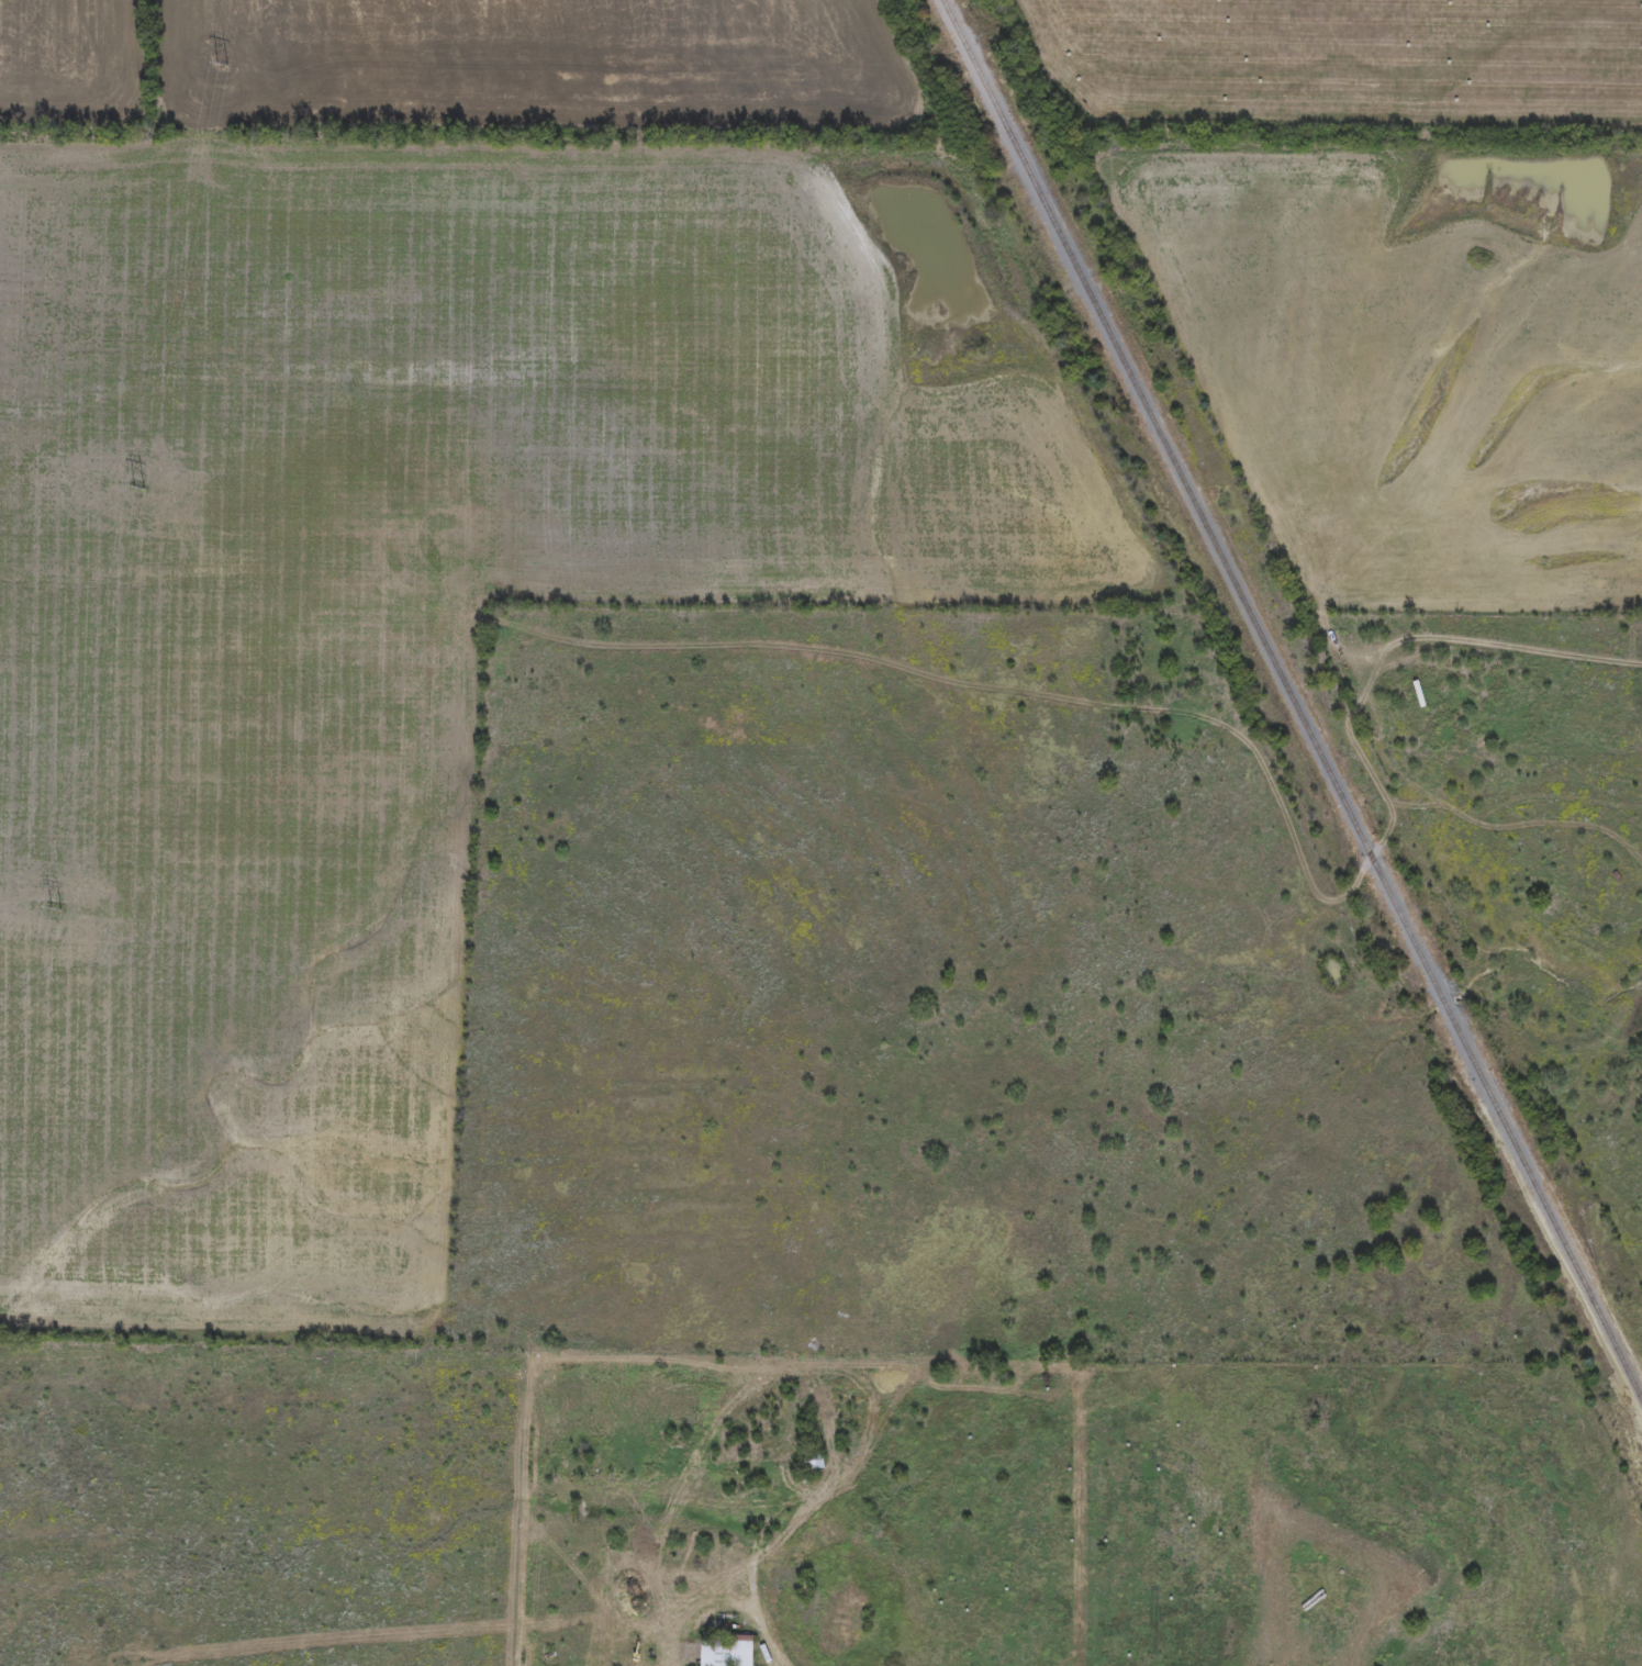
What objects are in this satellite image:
power tower: (221, 67)
power tower: (143, 492)
railway: (1292, 704)
power tower: (59, 913)
building: (812, 1463)
road: (570, 1491)
road: (752, 1562)
road: (680, 1600)
building: (725, 1652)

